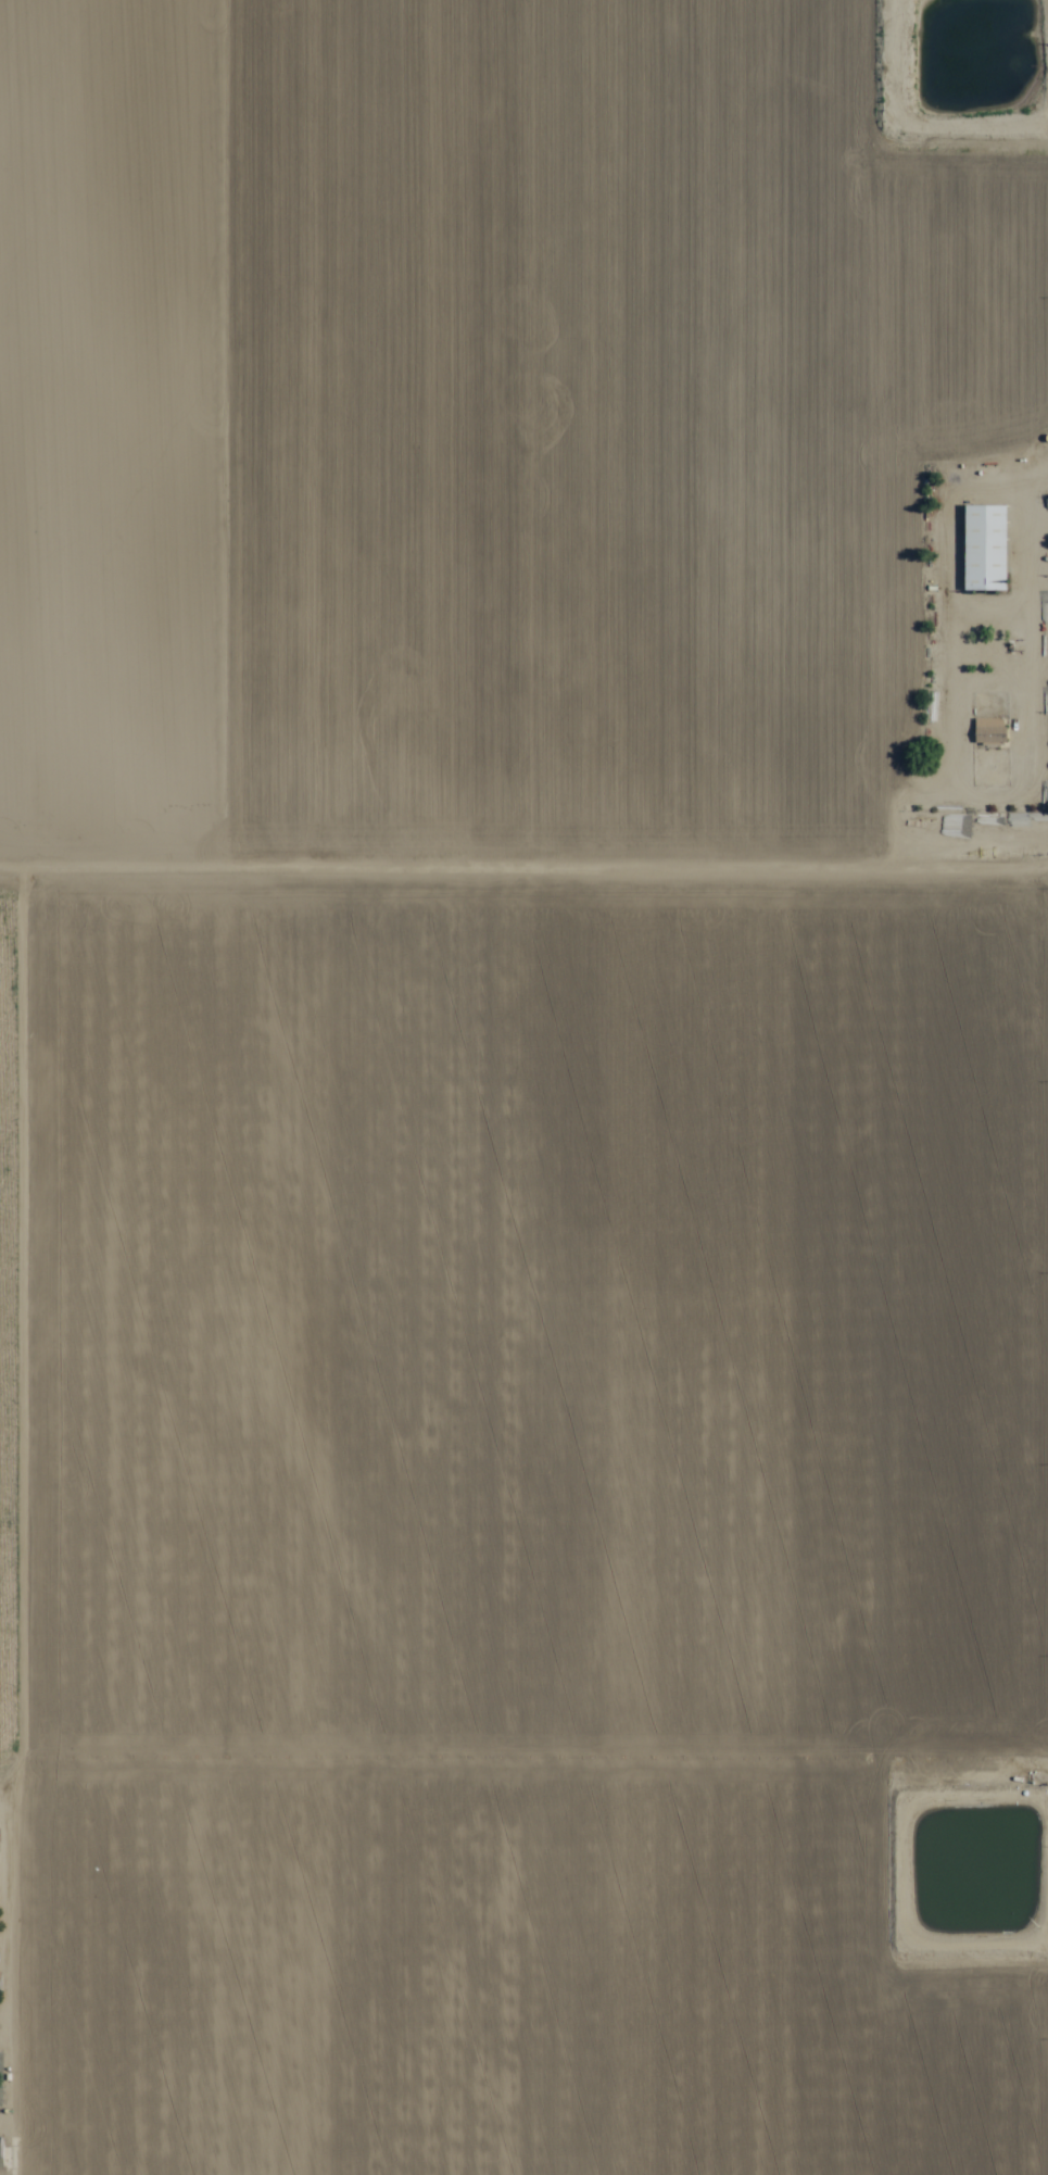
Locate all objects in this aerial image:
wastewater plant: (965, 63)
building: (983, 549)
building: (989, 732)
road: (523, 853)
crop: (523, 1087)
road: (1036, 1087)
wastewater plant: (968, 1870)
building: (2, 2159)

